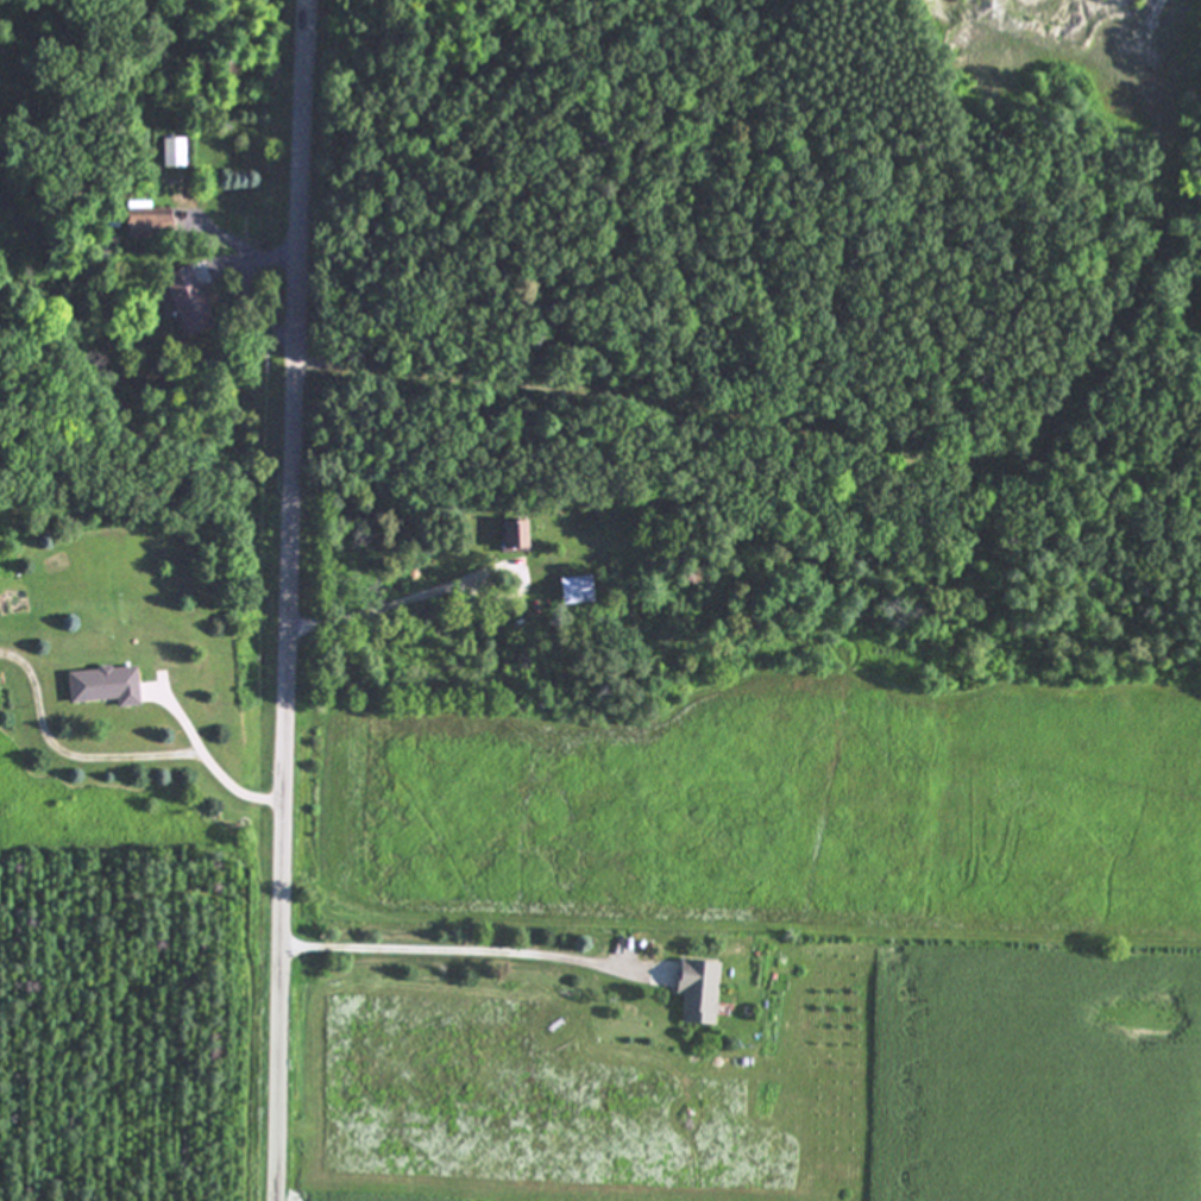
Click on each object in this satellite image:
building: (176, 152)
building: (152, 221)
road: (278, 257)
building: (194, 306)
building: (518, 534)
building: (580, 590)
road: (294, 599)
road: (395, 602)
building: (109, 685)
road: (73, 755)
road: (220, 763)
road: (463, 949)
building: (703, 992)

